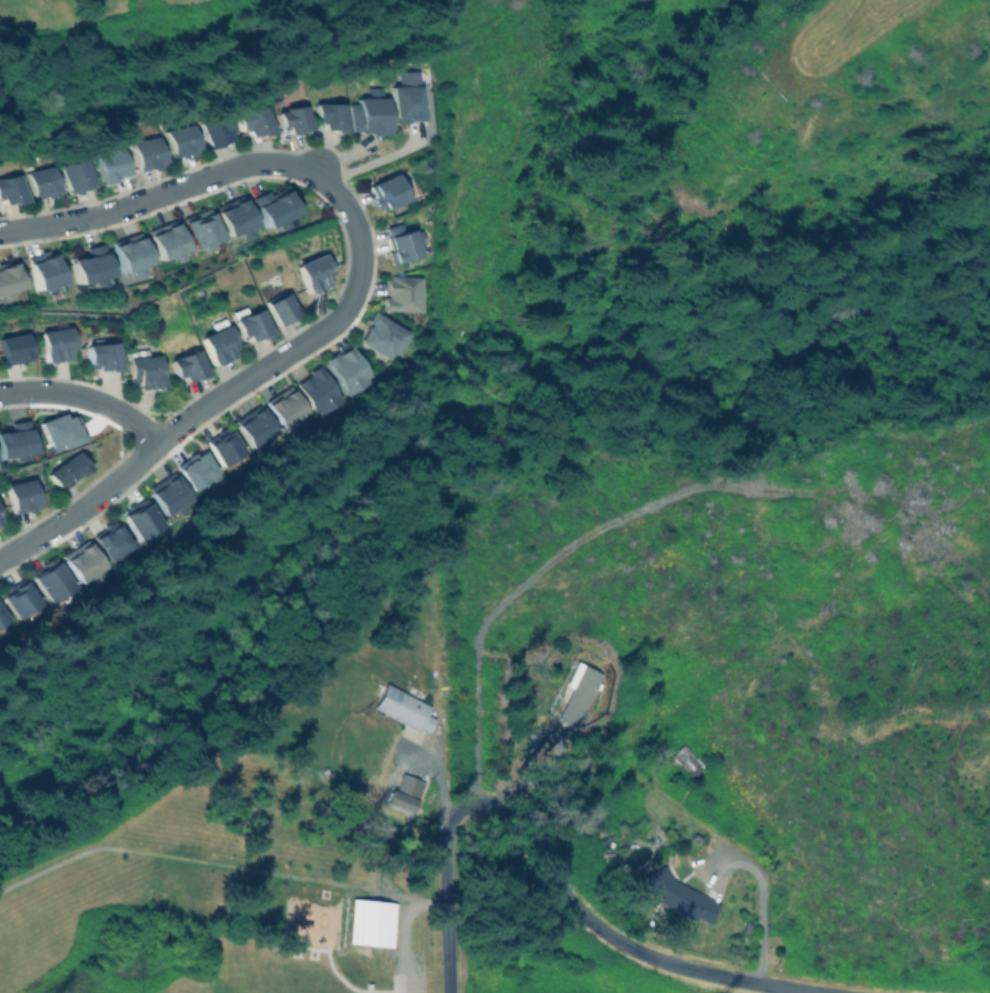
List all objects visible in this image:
building: (410, 97)
building: (376, 114)
building: (331, 118)
building: (292, 123)
building: (255, 124)
building: (218, 135)
building: (183, 143)
building: (147, 155)
building: (112, 168)
building: (78, 178)
building: (41, 184)
building: (387, 192)
building: (10, 193)
road: (336, 195)
building: (271, 208)
building: (232, 216)
building: (197, 229)
building: (163, 240)
building: (403, 246)
building: (127, 254)
building: (86, 265)
building: (313, 273)
building: (6, 277)
building: (42, 277)
building: (404, 293)
building: (279, 308)
building: (250, 325)
building: (383, 336)
building: (217, 345)
building: (55, 346)
building: (13, 350)
building: (104, 359)
building: (186, 366)
building: (347, 369)
building: (144, 371)
building: (317, 391)
road: (83, 398)
building: (285, 409)
building: (255, 427)
building: (14, 439)
building: (223, 446)
building: (67, 470)
building: (21, 496)
road: (79, 505)
building: (141, 519)
building: (111, 541)
building: (82, 563)
building: (50, 580)
road: (508, 594)
building: (17, 598)
building: (1, 617)
building: (577, 694)
building: (402, 708)
building: (685, 759)
road: (439, 777)
building: (678, 897)
road: (446, 920)
road: (593, 920)
building: (370, 922)
road: (405, 933)

